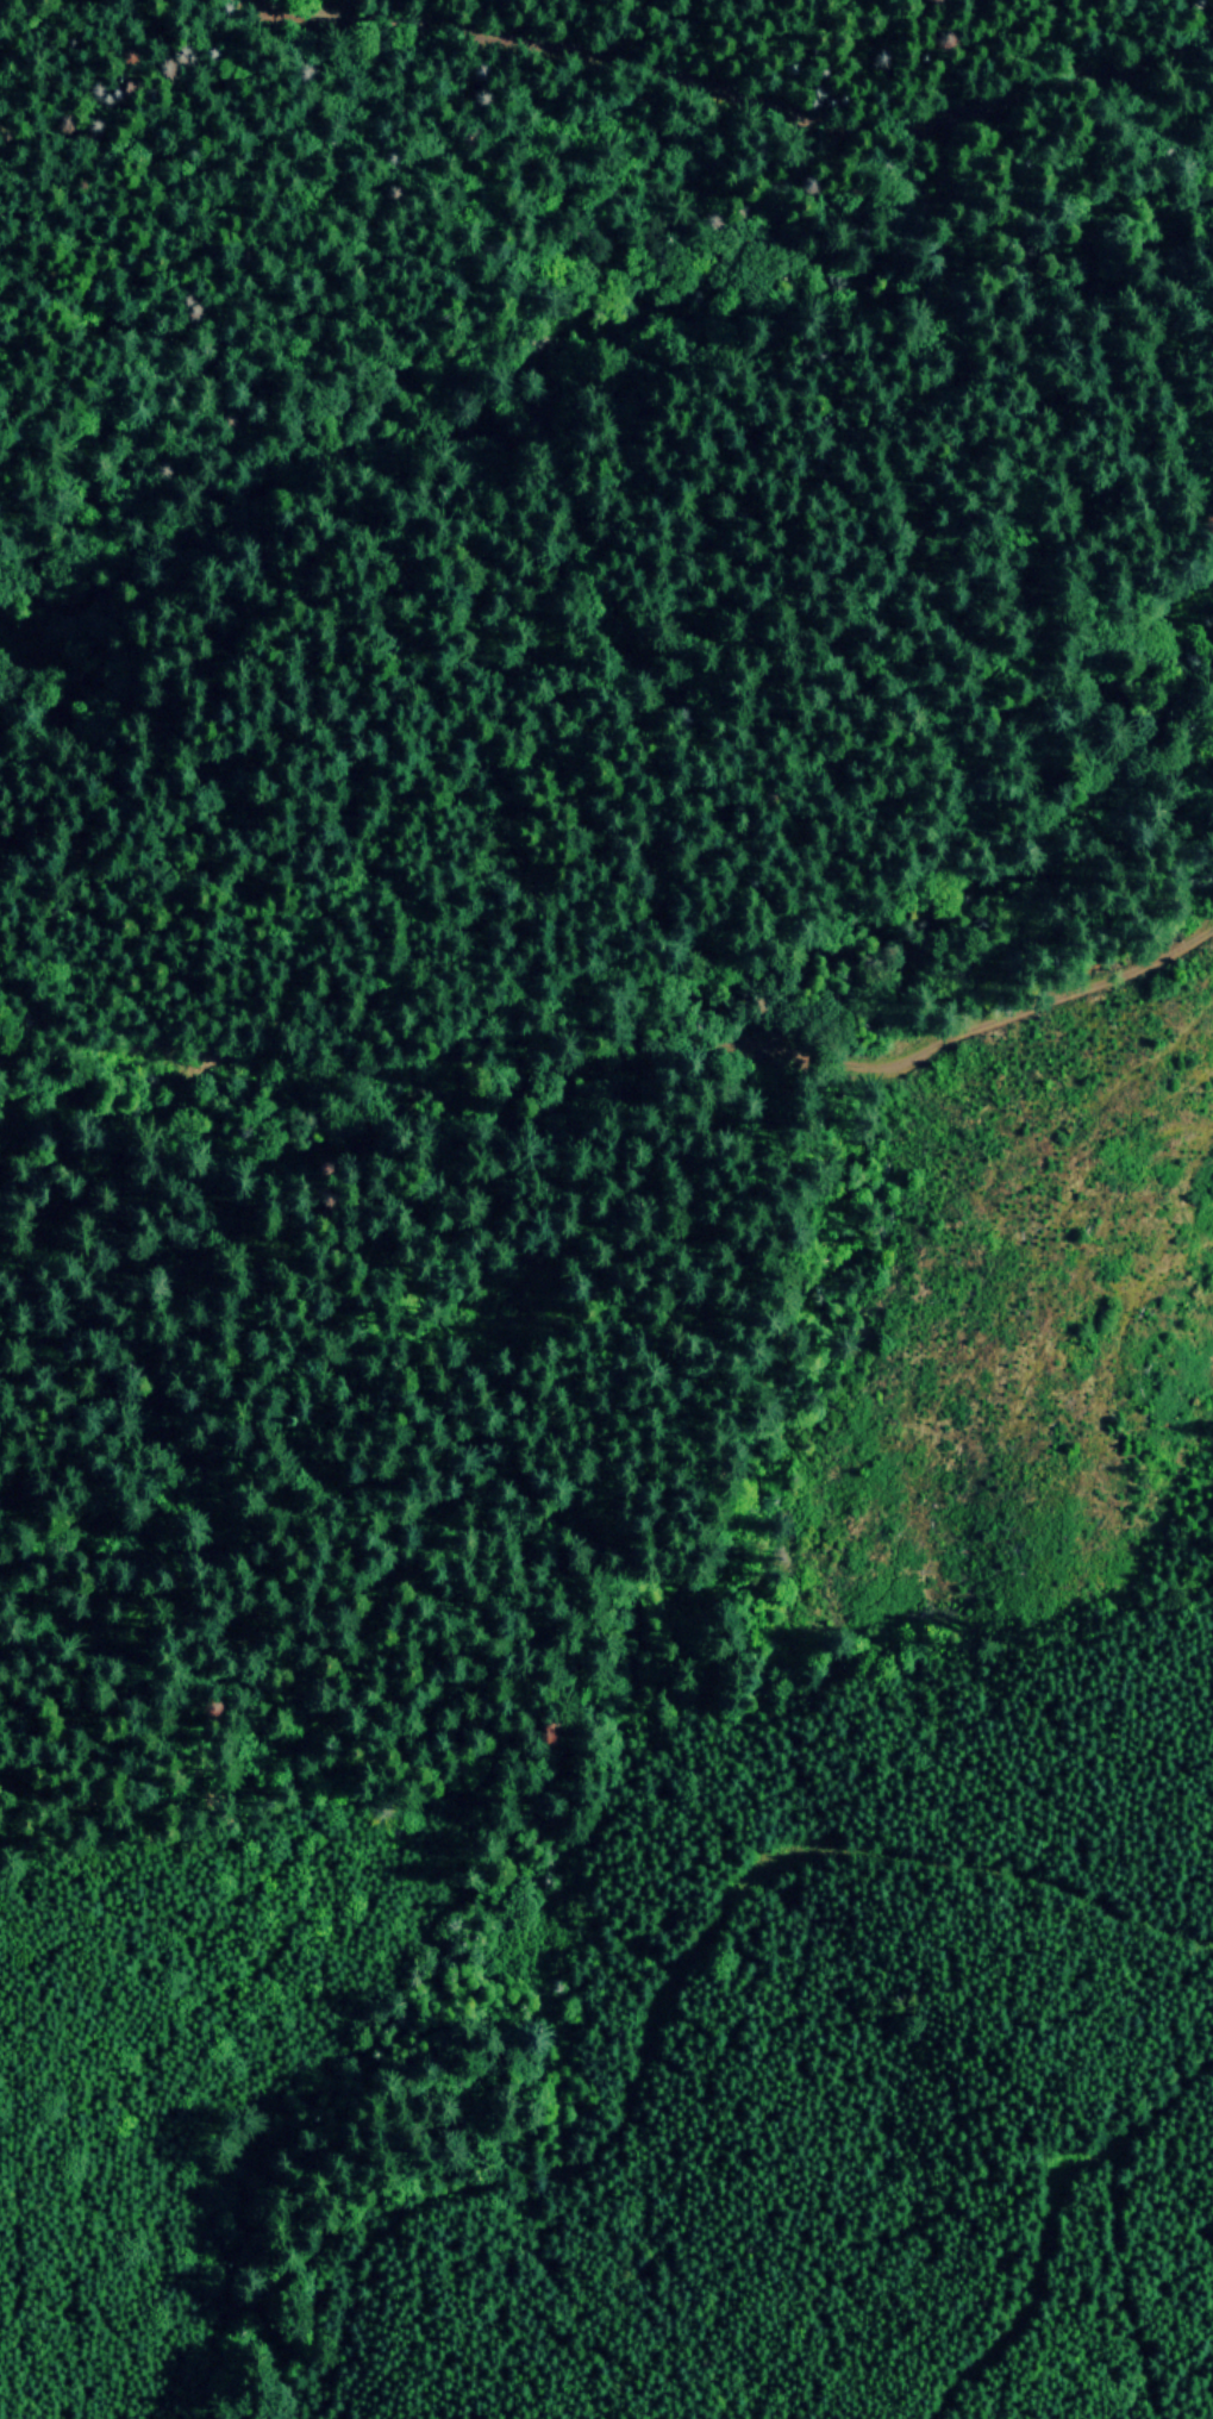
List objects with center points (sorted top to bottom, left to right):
road: (73, 51)
road: (681, 82)
road: (250, 205)
road: (1005, 1010)
road: (390, 1061)
road: (240, 1258)
road: (424, 1505)

